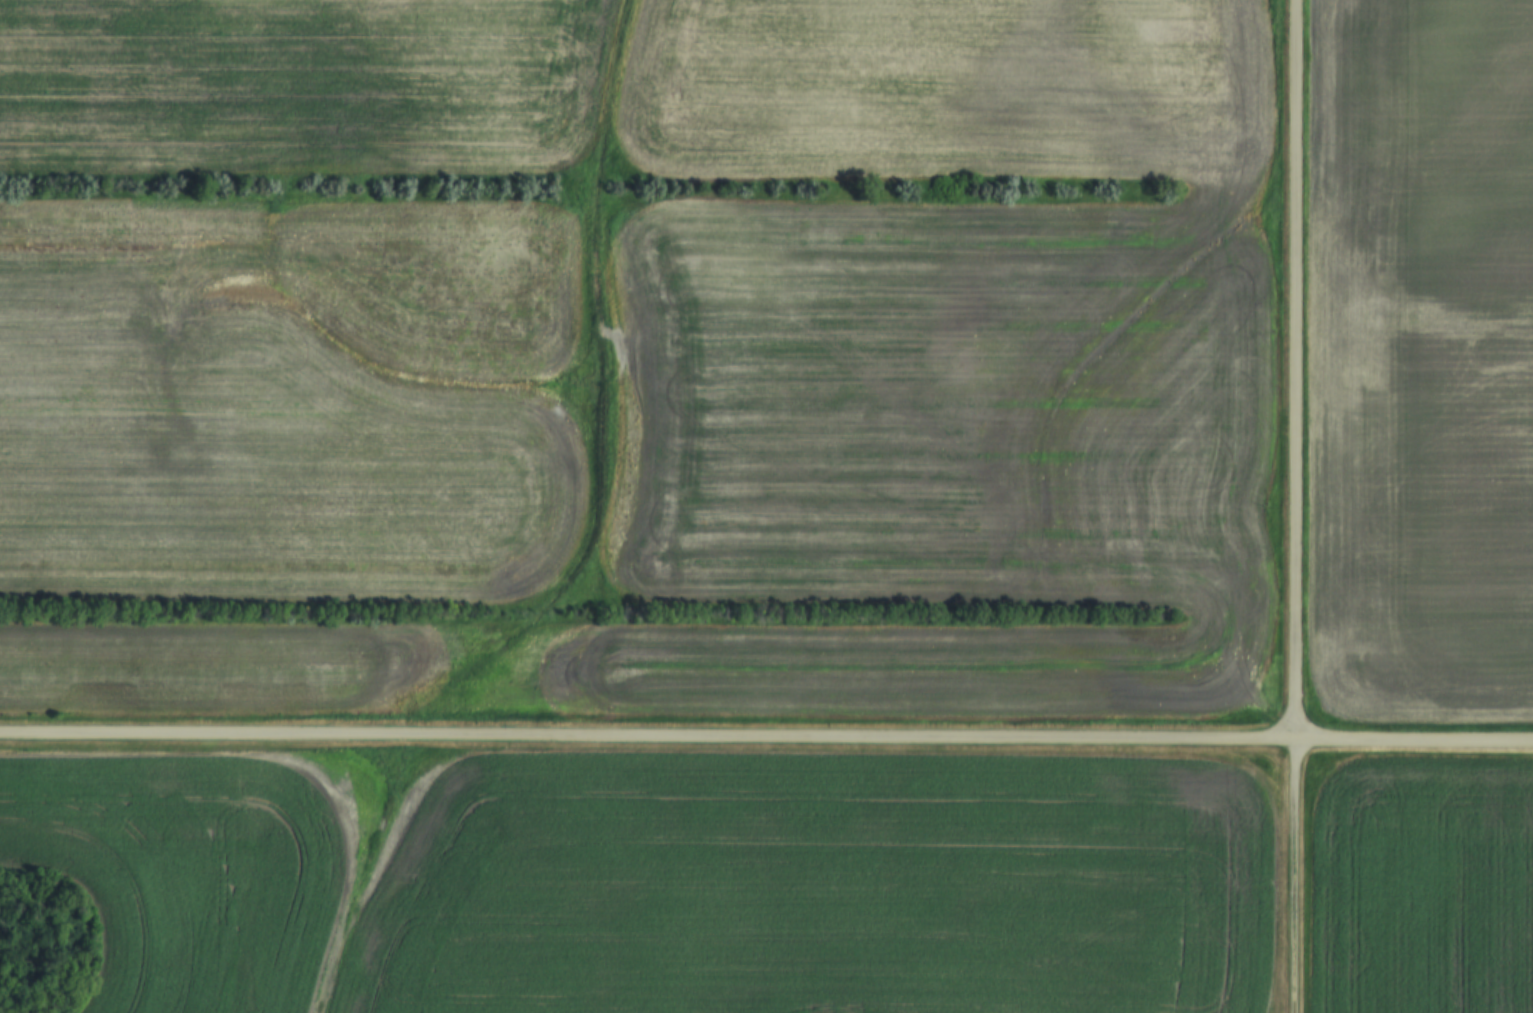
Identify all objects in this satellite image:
road: (1298, 370)
road: (766, 738)
road: (1297, 876)

